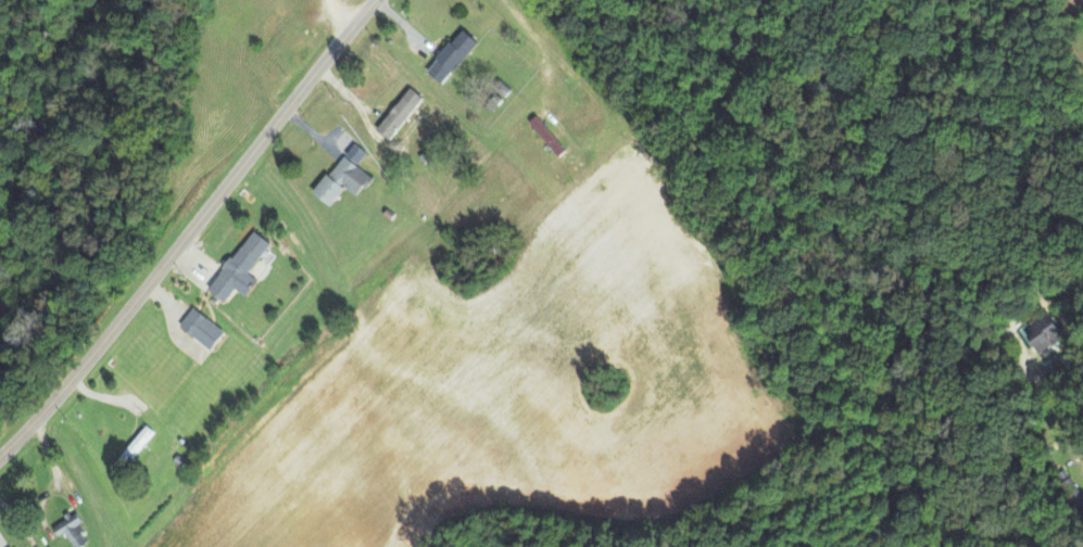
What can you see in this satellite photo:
road: (340, 18)
building: (453, 56)
building: (401, 114)
building: (547, 137)
building: (345, 177)
road: (190, 230)
building: (241, 267)
building: (203, 328)
building: (1045, 331)
road: (1072, 376)
building: (134, 448)
building: (72, 529)
building: (11, 546)

